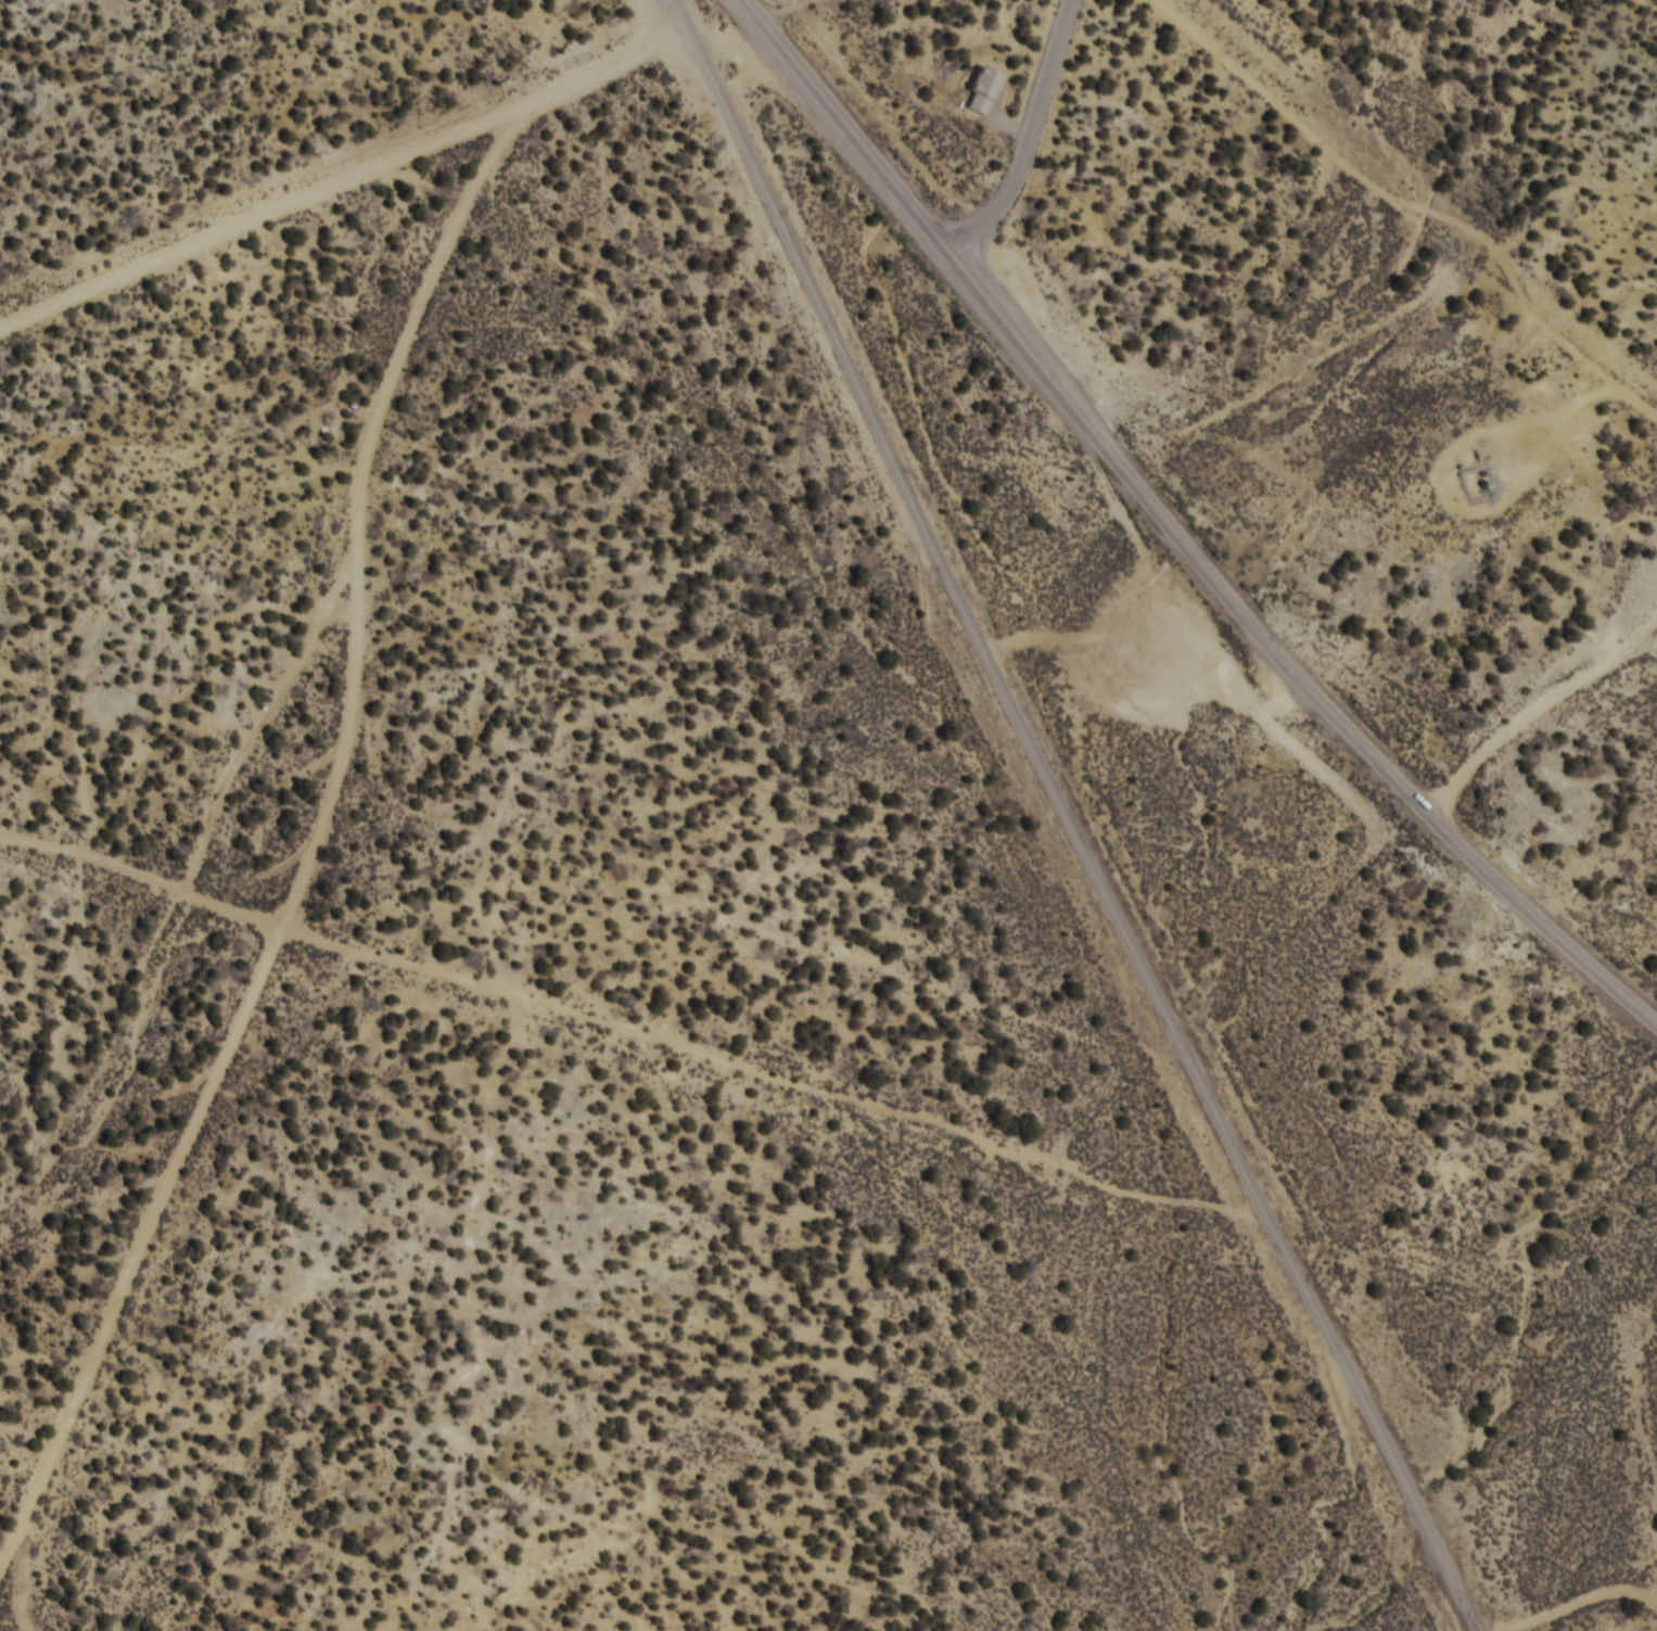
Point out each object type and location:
road: (1033, 135)
road: (344, 180)
road: (1404, 195)
road: (1314, 357)
road: (1586, 377)
road: (1619, 386)
road: (1451, 494)
road: (1180, 532)
road: (1537, 703)
road: (1073, 818)
road: (633, 1019)
road: (137, 1246)
road: (18, 1581)
road: (1569, 1604)

